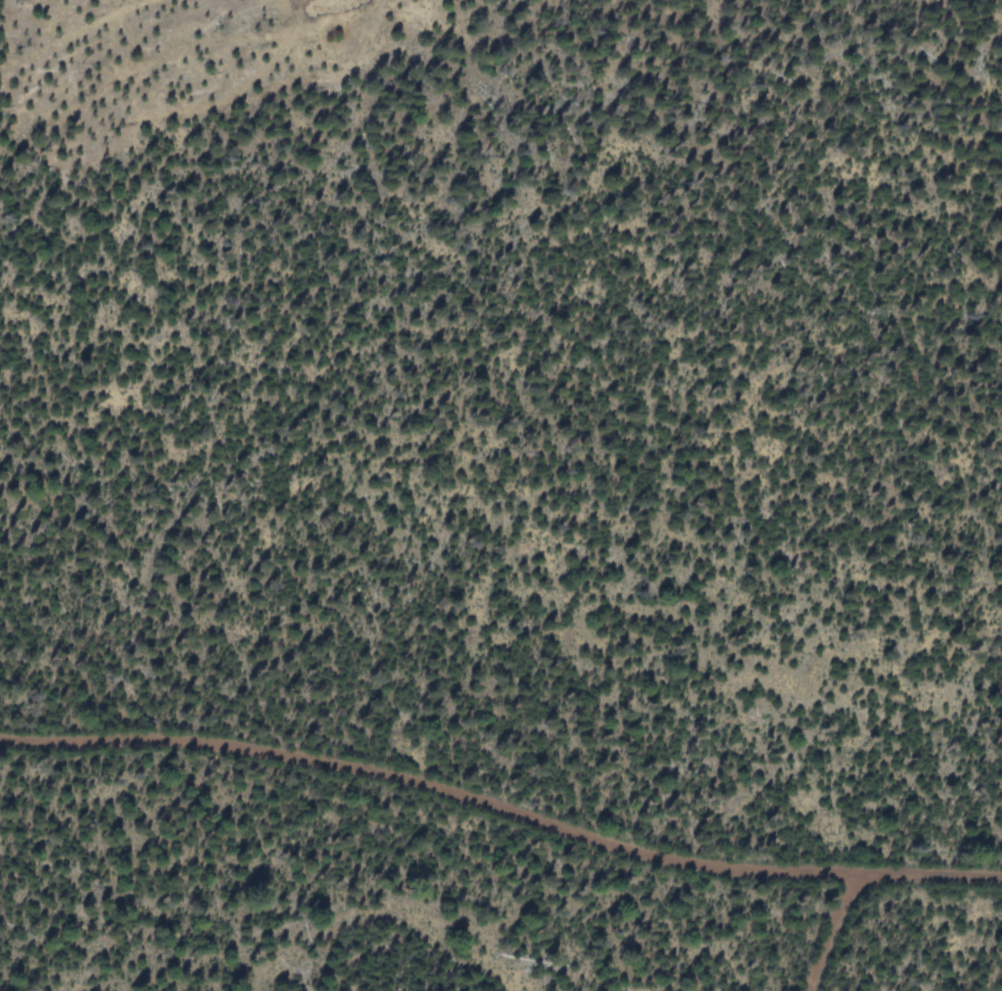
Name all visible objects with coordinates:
road: (500, 811)
road: (833, 933)

